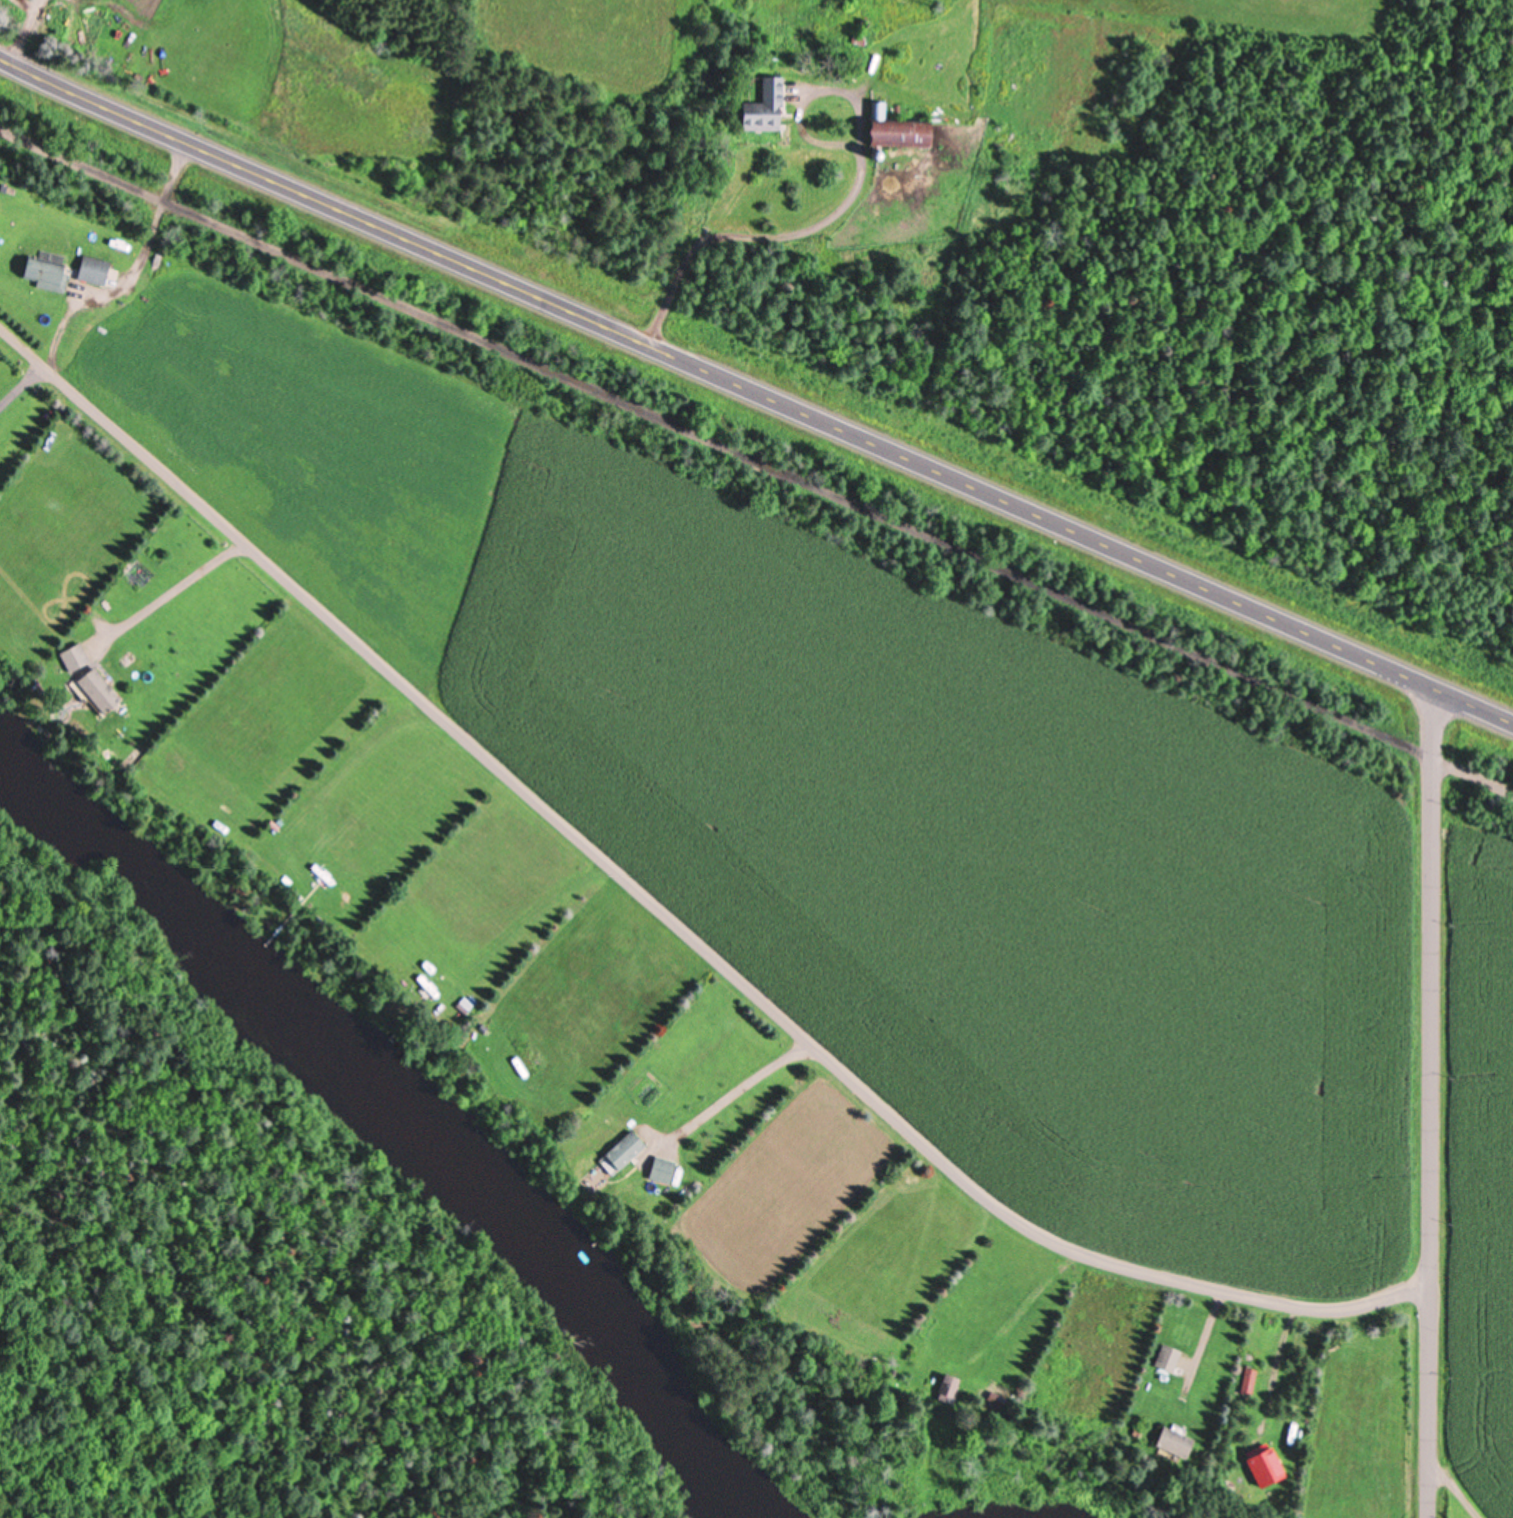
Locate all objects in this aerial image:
building: (764, 105)
building: (899, 130)
building: (93, 268)
building: (45, 269)
road: (756, 389)
road: (757, 458)
building: (14, 489)
building: (73, 655)
building: (97, 688)
road: (693, 940)
road: (1431, 1101)
river: (393, 1131)
building: (623, 1149)
building: (661, 1168)
building: (1166, 1357)
building: (1247, 1381)
building: (946, 1388)
building: (1173, 1441)
building: (1263, 1467)
road: (1458, 1490)

